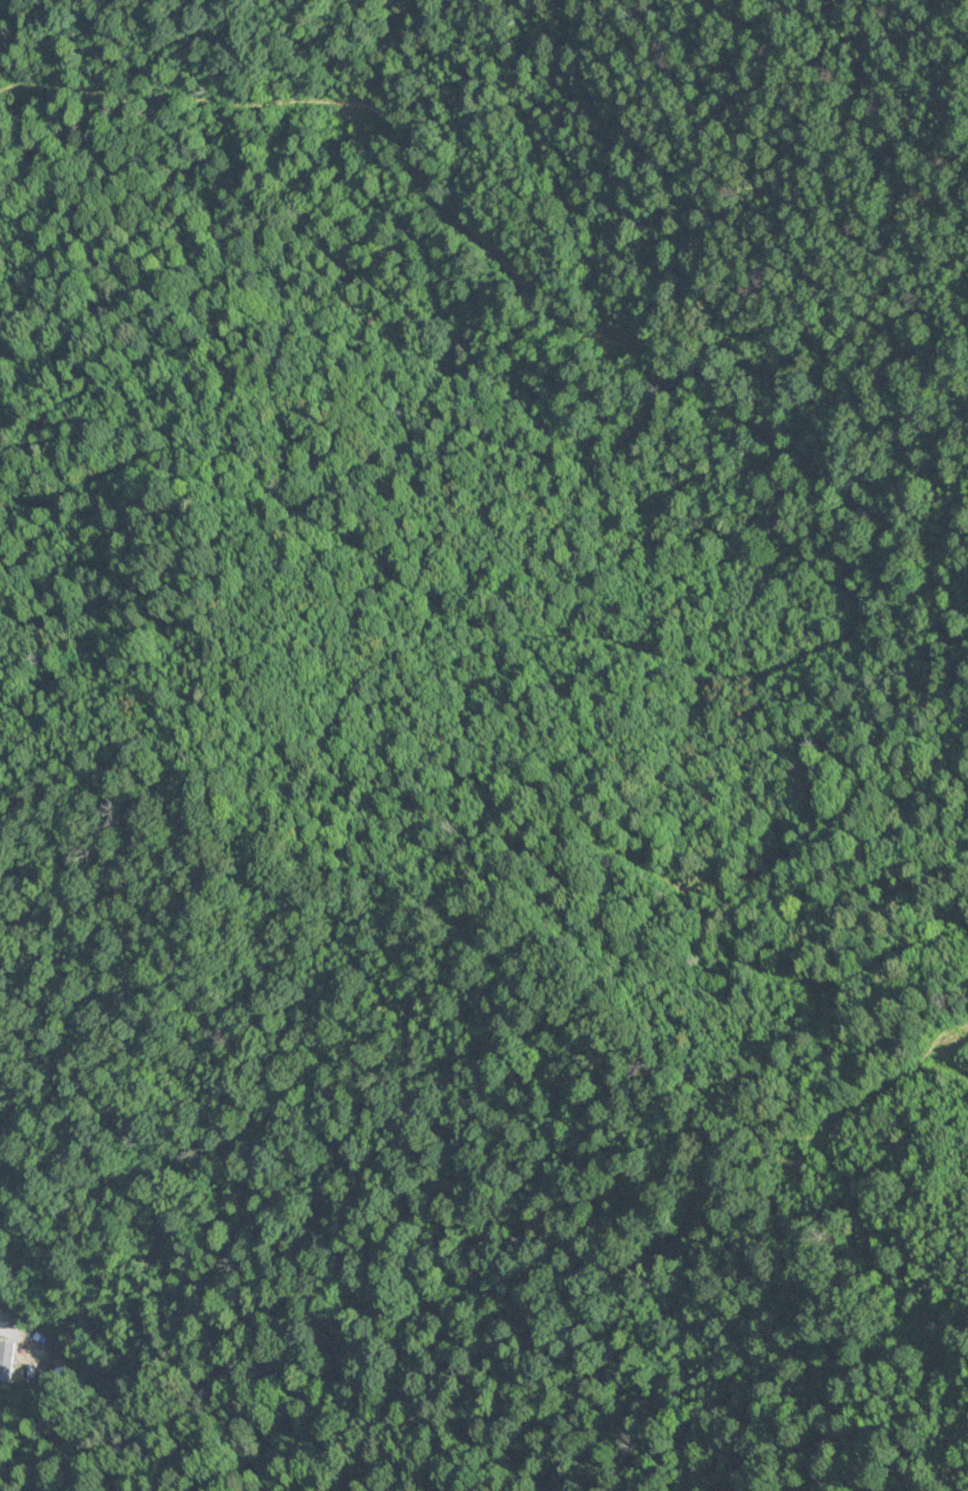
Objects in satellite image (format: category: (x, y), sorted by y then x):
building: (6, 1361)

